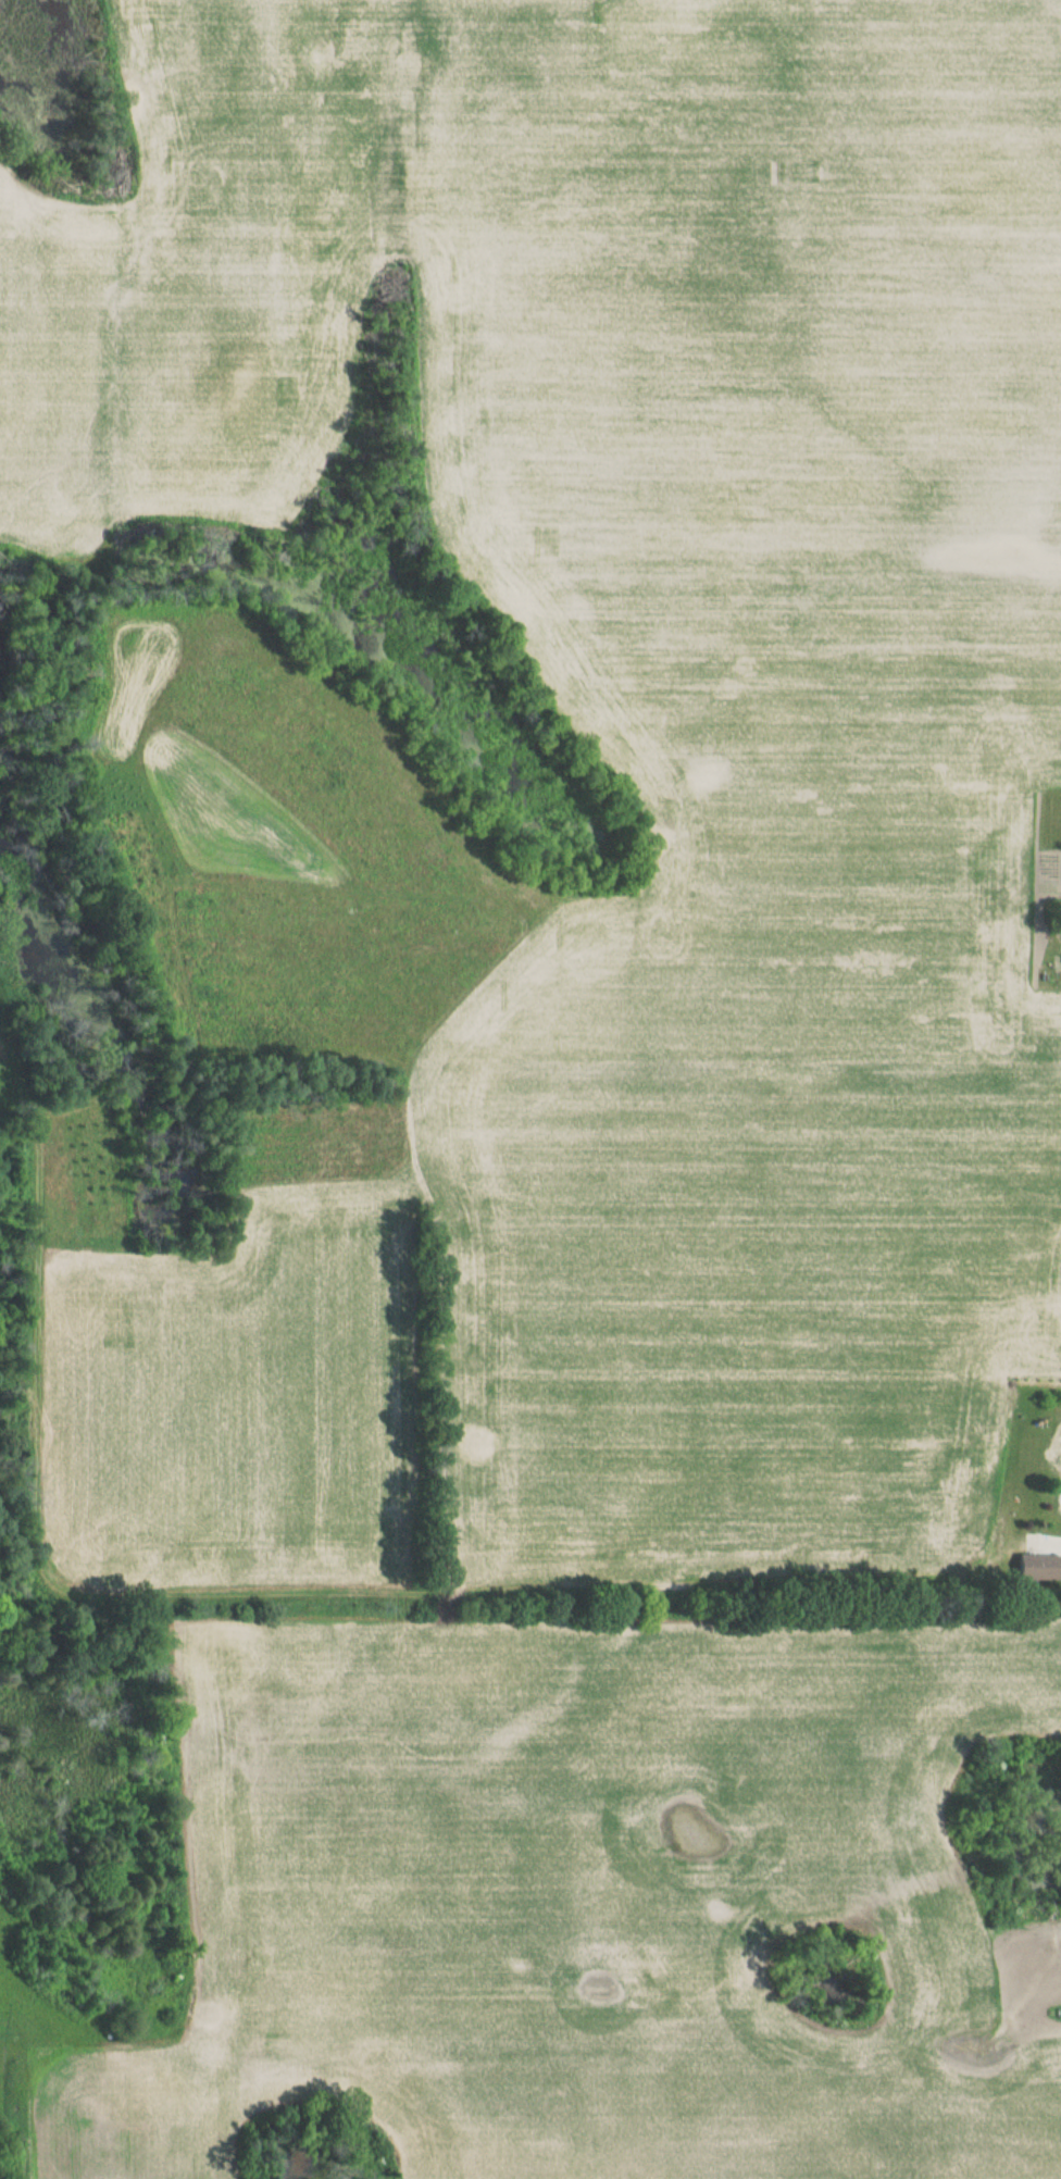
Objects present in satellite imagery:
building: (1036, 1567)

